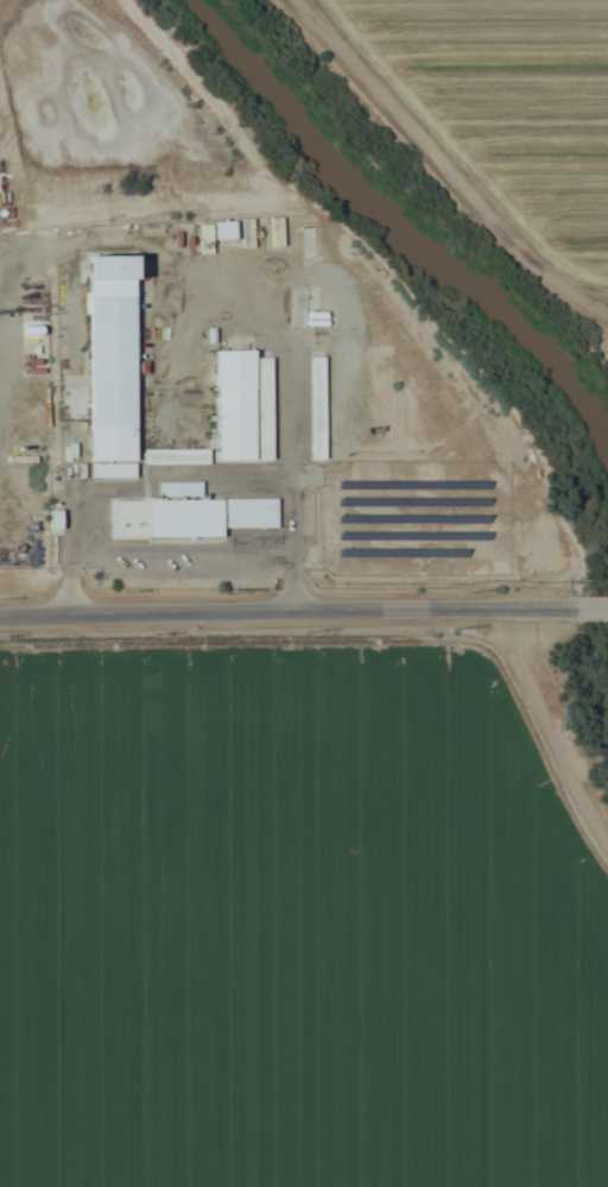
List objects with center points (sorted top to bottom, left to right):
road: (439, 166)
building: (221, 228)
river: (436, 246)
building: (316, 317)
building: (108, 358)
building: (241, 405)
building: (315, 408)
building: (175, 455)
building: (188, 516)
road: (590, 607)
road: (286, 608)
road: (546, 730)

